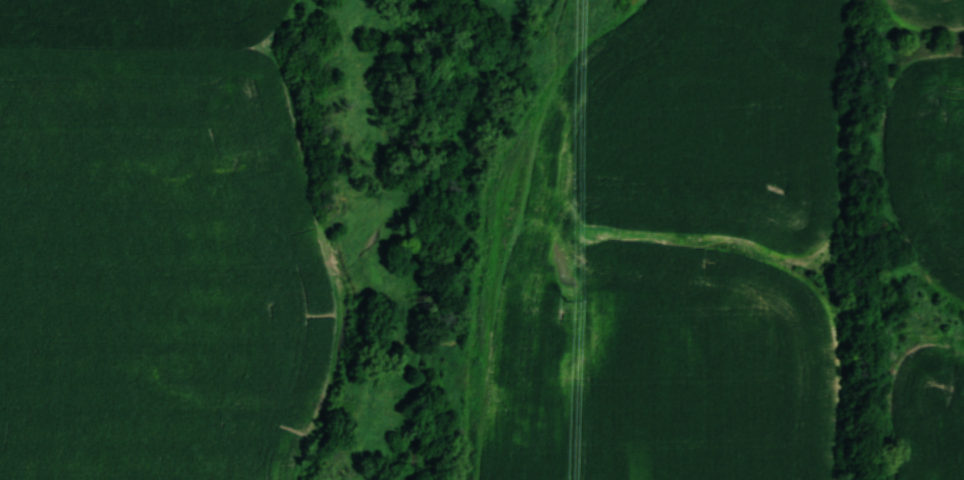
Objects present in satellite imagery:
power tower: (566, 294)

